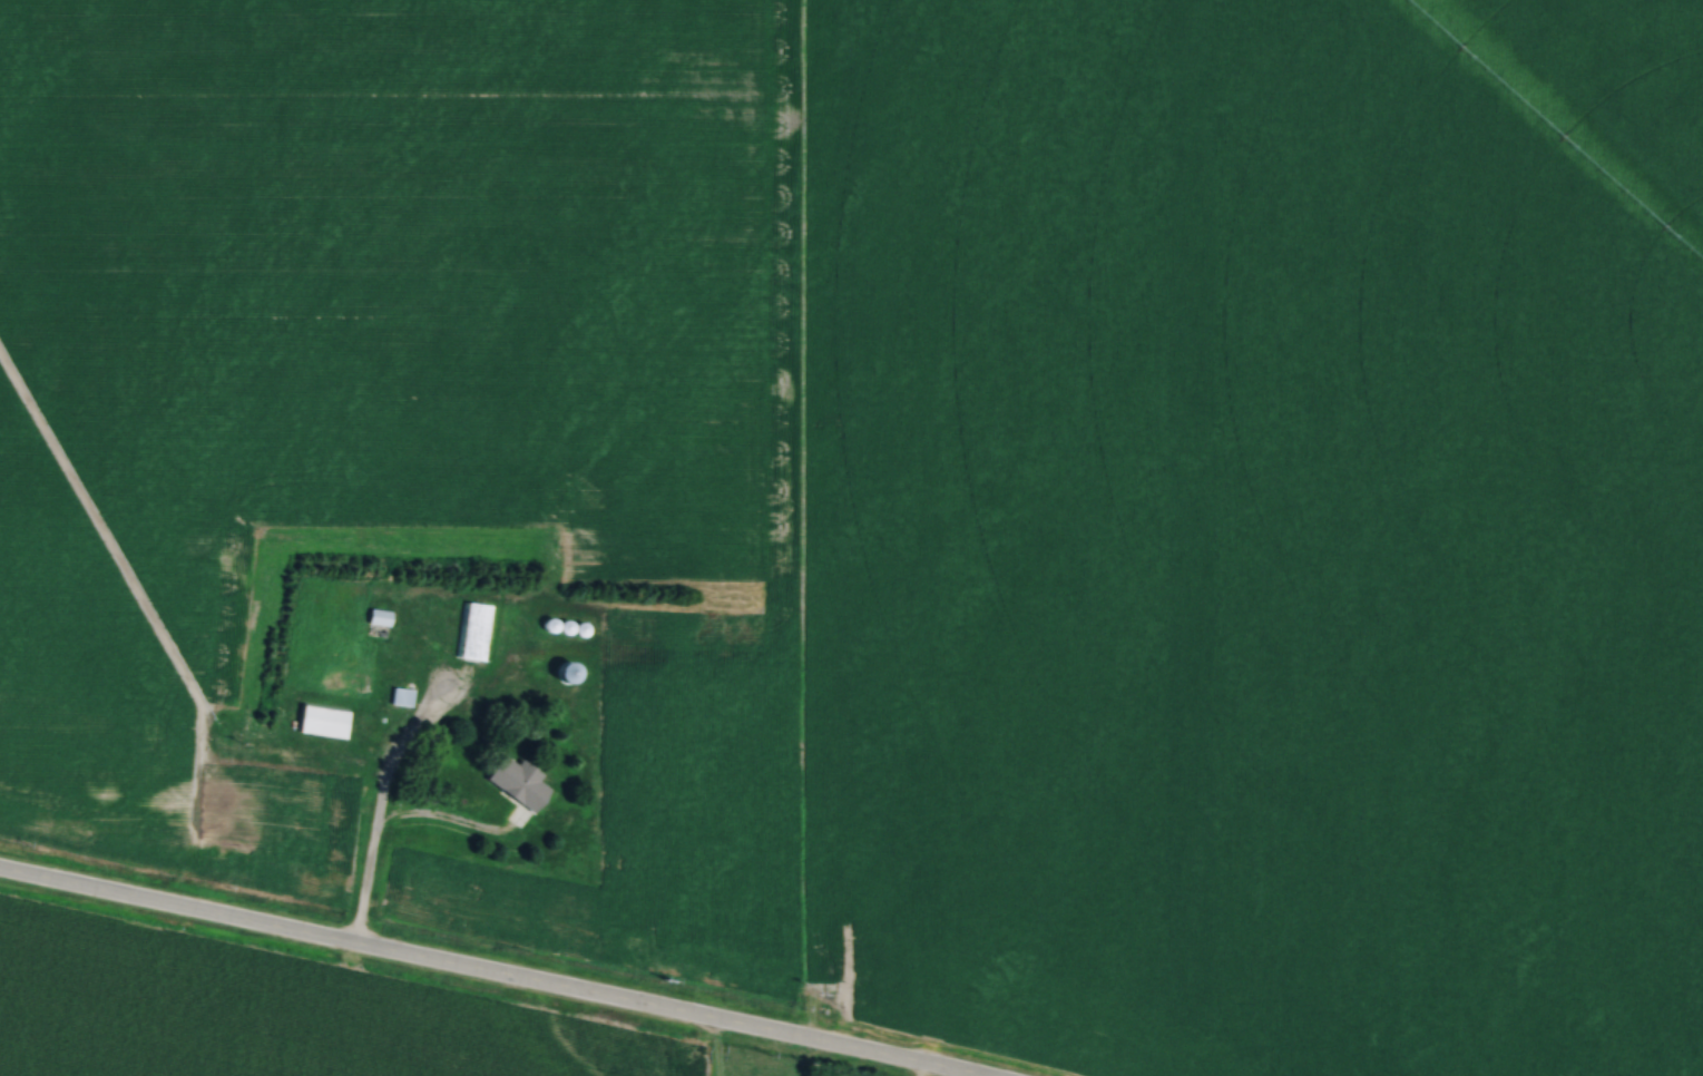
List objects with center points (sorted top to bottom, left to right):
building: (380, 618)
building: (474, 633)
building: (546, 667)
building: (401, 697)
building: (324, 722)
building: (520, 783)
road: (385, 819)
road: (487, 972)

